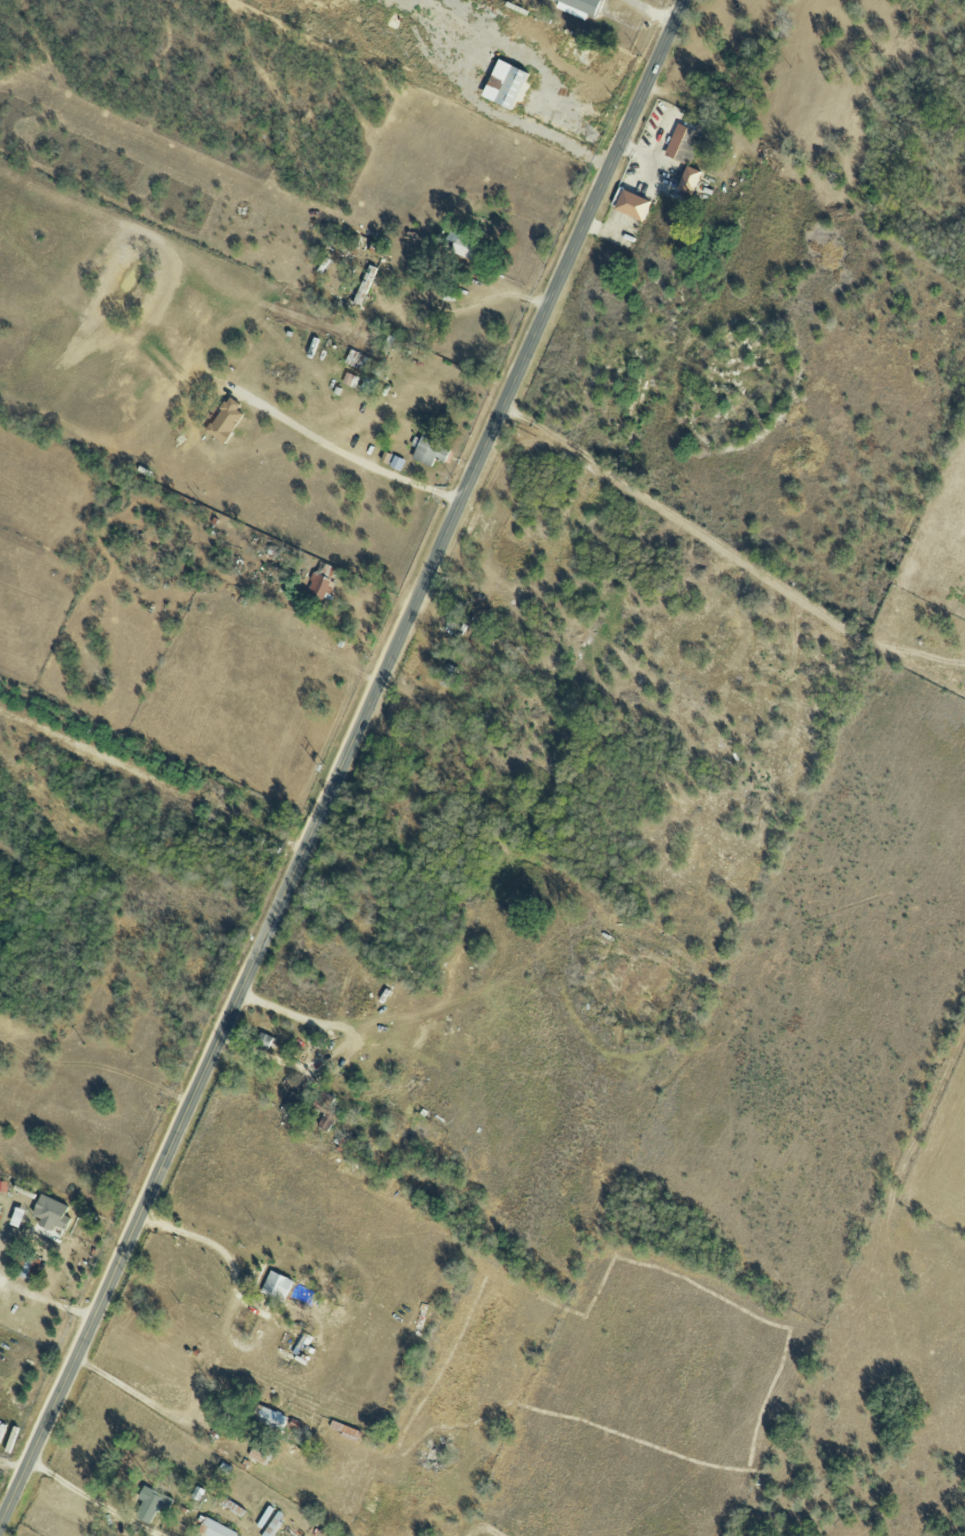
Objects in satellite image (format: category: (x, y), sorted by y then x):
building: (581, 5)
road: (653, 11)
road: (530, 60)
building: (503, 84)
building: (681, 144)
building: (688, 180)
building: (631, 205)
building: (364, 285)
building: (350, 380)
road: (224, 384)
building: (224, 421)
building: (428, 448)
building: (396, 463)
road: (731, 553)
building: (319, 587)
building: (447, 676)
road: (342, 763)
building: (263, 1040)
road: (328, 1051)
building: (292, 1105)
building: (325, 1110)
road: (325, 1139)
building: (50, 1212)
building: (16, 1216)
road: (220, 1249)
building: (276, 1286)
road: (46, 1299)
road: (126, 1388)
building: (269, 1418)
building: (345, 1431)
road: (7, 1488)
road: (94, 1500)
building: (151, 1503)
building: (264, 1517)
building: (273, 1524)
building: (214, 1529)

